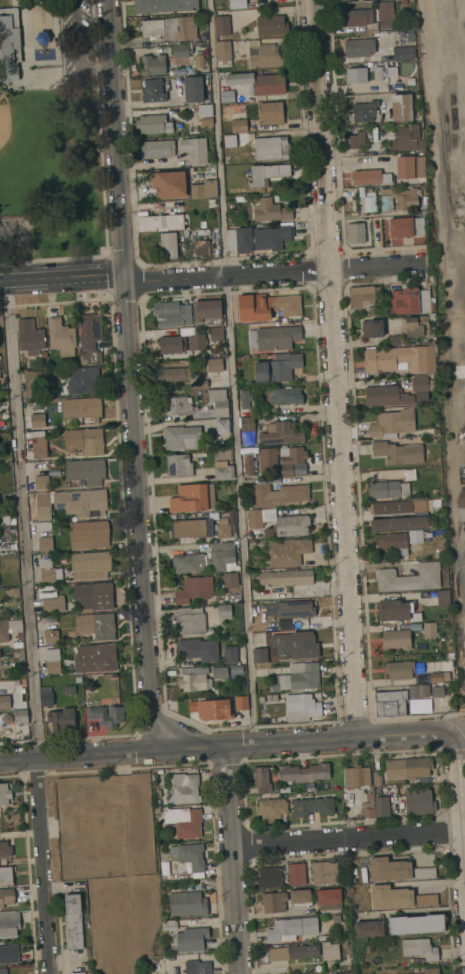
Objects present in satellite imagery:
building: (403, 1)
building: (238, 3)
building: (164, 5)
building: (371, 16)
building: (271, 24)
building: (222, 25)
building: (152, 27)
building: (181, 27)
building: (410, 37)
road: (75, 38)
building: (9, 44)
building: (359, 47)
building: (182, 50)
building: (224, 53)
building: (398, 53)
building: (265, 55)
building: (199, 61)
building: (153, 65)
building: (174, 69)
building: (378, 73)
building: (356, 75)
building: (259, 82)
building: (398, 87)
building: (194, 89)
building: (153, 90)
building: (227, 96)
building: (402, 107)
building: (205, 110)
building: (365, 111)
building: (272, 112)
building: (377, 120)
building: (207, 121)
building: (154, 124)
building: (239, 125)
park: (48, 131)
building: (407, 137)
building: (358, 138)
building: (230, 141)
park: (29, 145)
building: (271, 147)
building: (157, 148)
building: (194, 149)
building: (408, 166)
building: (257, 177)
building: (370, 177)
road: (101, 180)
building: (170, 183)
building: (204, 189)
building: (362, 192)
building: (399, 198)
building: (369, 202)
building: (424, 205)
building: (215, 210)
building: (270, 210)
building: (160, 222)
building: (202, 224)
building: (406, 227)
building: (186, 233)
building: (356, 233)
building: (258, 238)
building: (169, 245)
building: (202, 247)
road: (22, 248)
road: (272, 272)
road: (61, 276)
building: (364, 296)
building: (411, 301)
building: (266, 306)
building: (207, 313)
building: (172, 314)
building: (432, 316)
building: (415, 326)
building: (372, 328)
building: (90, 330)
building: (216, 333)
building: (61, 336)
building: (30, 337)
building: (273, 338)
building: (393, 340)
building: (197, 341)
building: (173, 345)
building: (433, 347)
building: (44, 354)
building: (83, 358)
building: (396, 359)
building: (215, 364)
building: (277, 368)
road: (334, 368)
road: (231, 372)
building: (175, 374)
road: (129, 375)
building: (84, 380)
building: (31, 383)
building: (201, 383)
building: (50, 388)
building: (422, 389)
building: (387, 395)
building: (286, 396)
building: (245, 399)
building: (219, 401)
building: (177, 405)
building: (82, 408)
building: (38, 420)
building: (392, 423)
building: (247, 424)
building: (222, 426)
building: (282, 434)
building: (183, 437)
building: (84, 440)
building: (250, 443)
building: (39, 447)
building: (399, 453)
building: (291, 458)
building: (268, 460)
building: (249, 463)
building: (179, 465)
building: (86, 471)
building: (223, 471)
building: (410, 474)
building: (41, 482)
building: (388, 489)
building: (436, 492)
building: (279, 494)
building: (193, 498)
building: (81, 501)
building: (434, 504)
building: (43, 506)
building: (399, 507)
road: (22, 520)
building: (280, 522)
building: (399, 523)
building: (191, 527)
building: (224, 531)
building: (90, 533)
building: (415, 536)
building: (392, 542)
building: (45, 543)
building: (287, 552)
building: (206, 559)
building: (90, 565)
building: (47, 570)
building: (253, 574)
building: (286, 577)
building: (410, 577)
building: (230, 580)
building: (194, 589)
building: (13, 591)
building: (93, 595)
building: (443, 597)
building: (53, 604)
building: (1, 607)
building: (290, 609)
building: (224, 611)
building: (397, 611)
building: (190, 620)
building: (96, 625)
building: (9, 628)
building: (430, 630)
building: (51, 635)
building: (397, 639)
building: (18, 644)
building: (198, 649)
building: (17, 654)
building: (230, 654)
building: (96, 657)
building: (53, 661)
building: (412, 670)
building: (219, 672)
building: (299, 677)
building: (78, 679)
building: (194, 681)
building: (70, 689)
building: (419, 690)
building: (437, 691)
building: (47, 695)
building: (272, 697)
building: (261, 699)
building: (5, 702)
building: (242, 703)
building: (390, 703)
building: (419, 706)
building: (301, 707)
building: (214, 709)
building: (21, 716)
building: (105, 717)
building: (264, 717)
building: (62, 719)
road: (232, 746)
building: (408, 767)
building: (304, 772)
building: (356, 776)
building: (377, 778)
building: (262, 779)
building: (184, 788)
building: (281, 788)
building: (4, 794)
building: (158, 794)
building: (370, 797)
building: (419, 802)
building: (313, 806)
building: (382, 806)
building: (272, 809)
building: (369, 810)
road: (458, 820)
building: (184, 821)
road: (346, 840)
building: (5, 849)
building: (190, 857)
road: (234, 860)
road: (44, 866)
building: (164, 869)
building: (398, 870)
building: (325, 872)
building: (6, 874)
building: (297, 874)
building: (270, 877)
building: (7, 896)
building: (300, 896)
building: (398, 897)
building: (329, 898)
building: (274, 902)
building: (188, 904)
building: (337, 918)
building: (74, 921)
building: (9, 924)
building: (170, 924)
building: (417, 924)
building: (369, 928)
building: (291, 929)
building: (322, 937)
building: (192, 939)
building: (420, 948)
building: (330, 951)
building: (294, 952)
building: (9, 953)
building: (198, 967)
building: (3, 970)
building: (430, 970)
building: (78, 973)
building: (344, 973)

